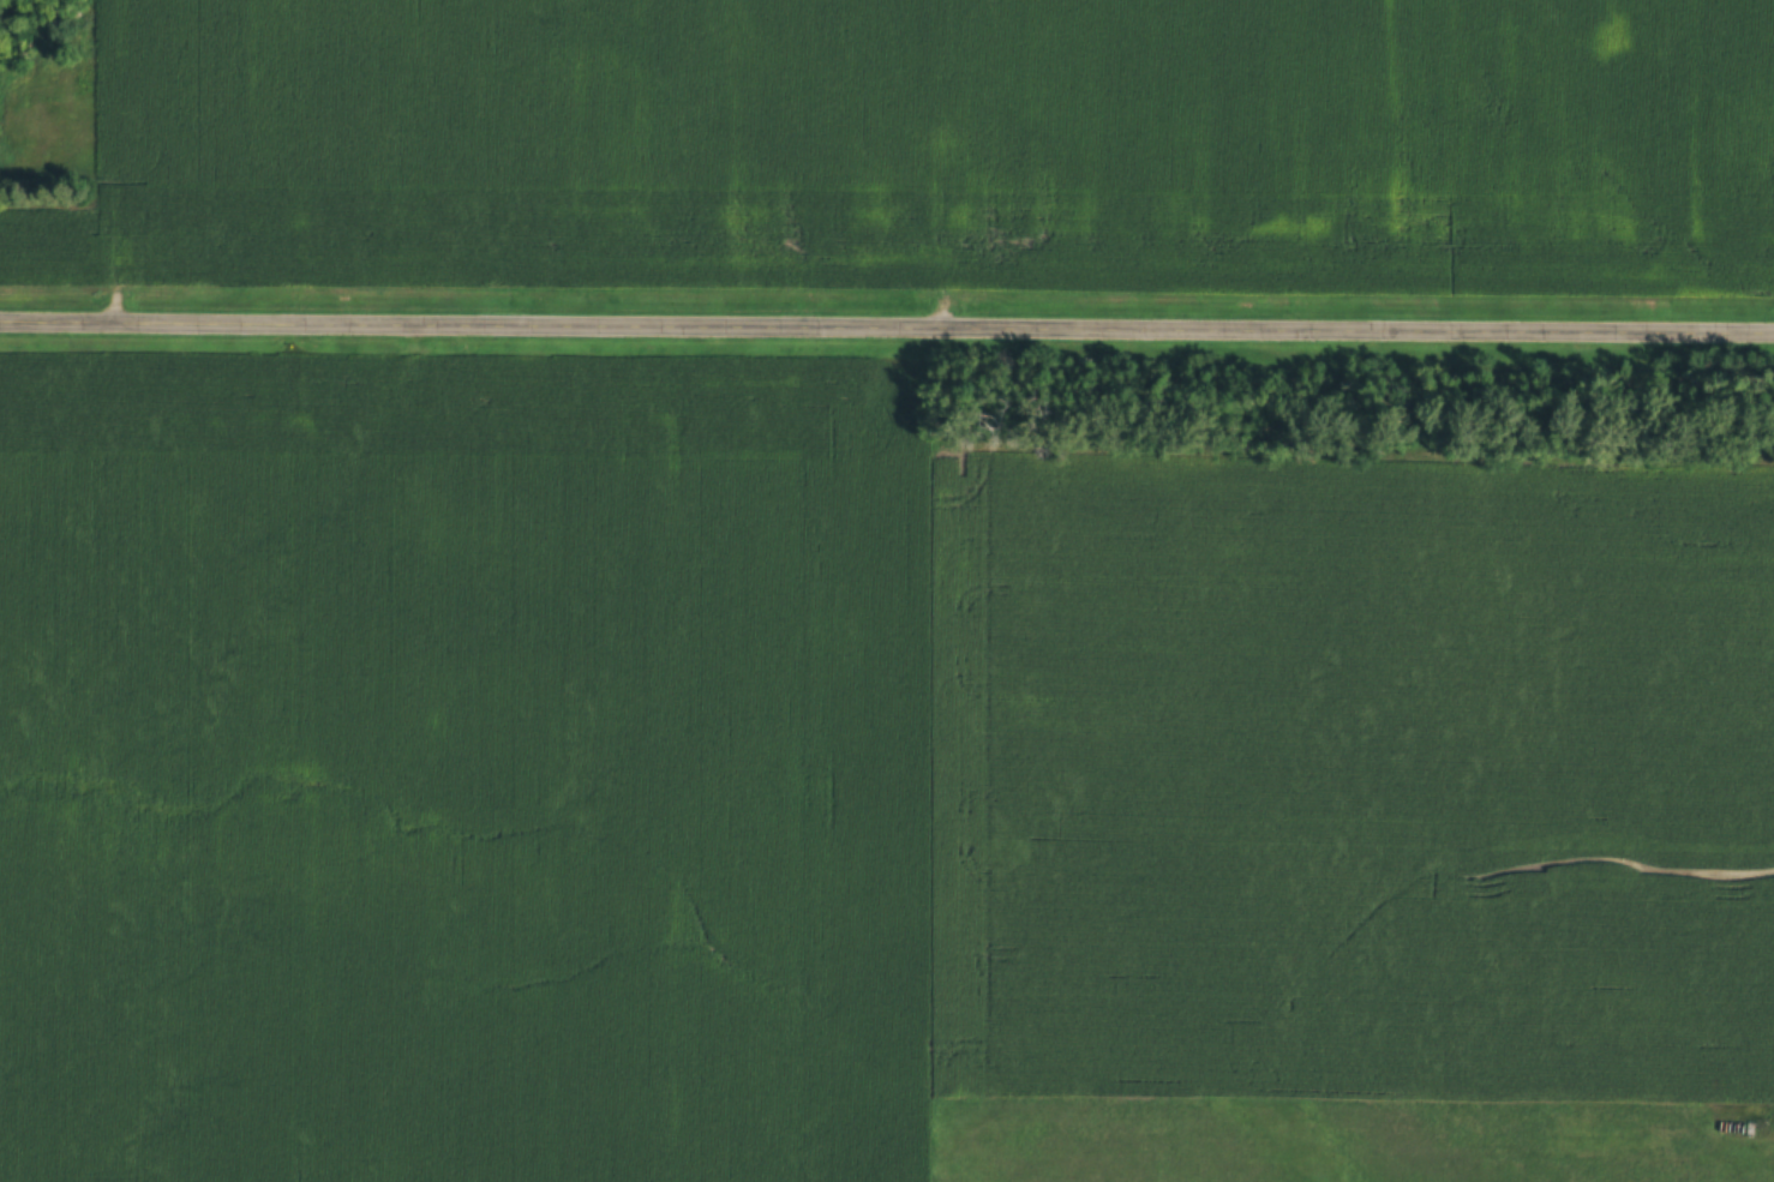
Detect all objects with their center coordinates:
road: (886, 335)

